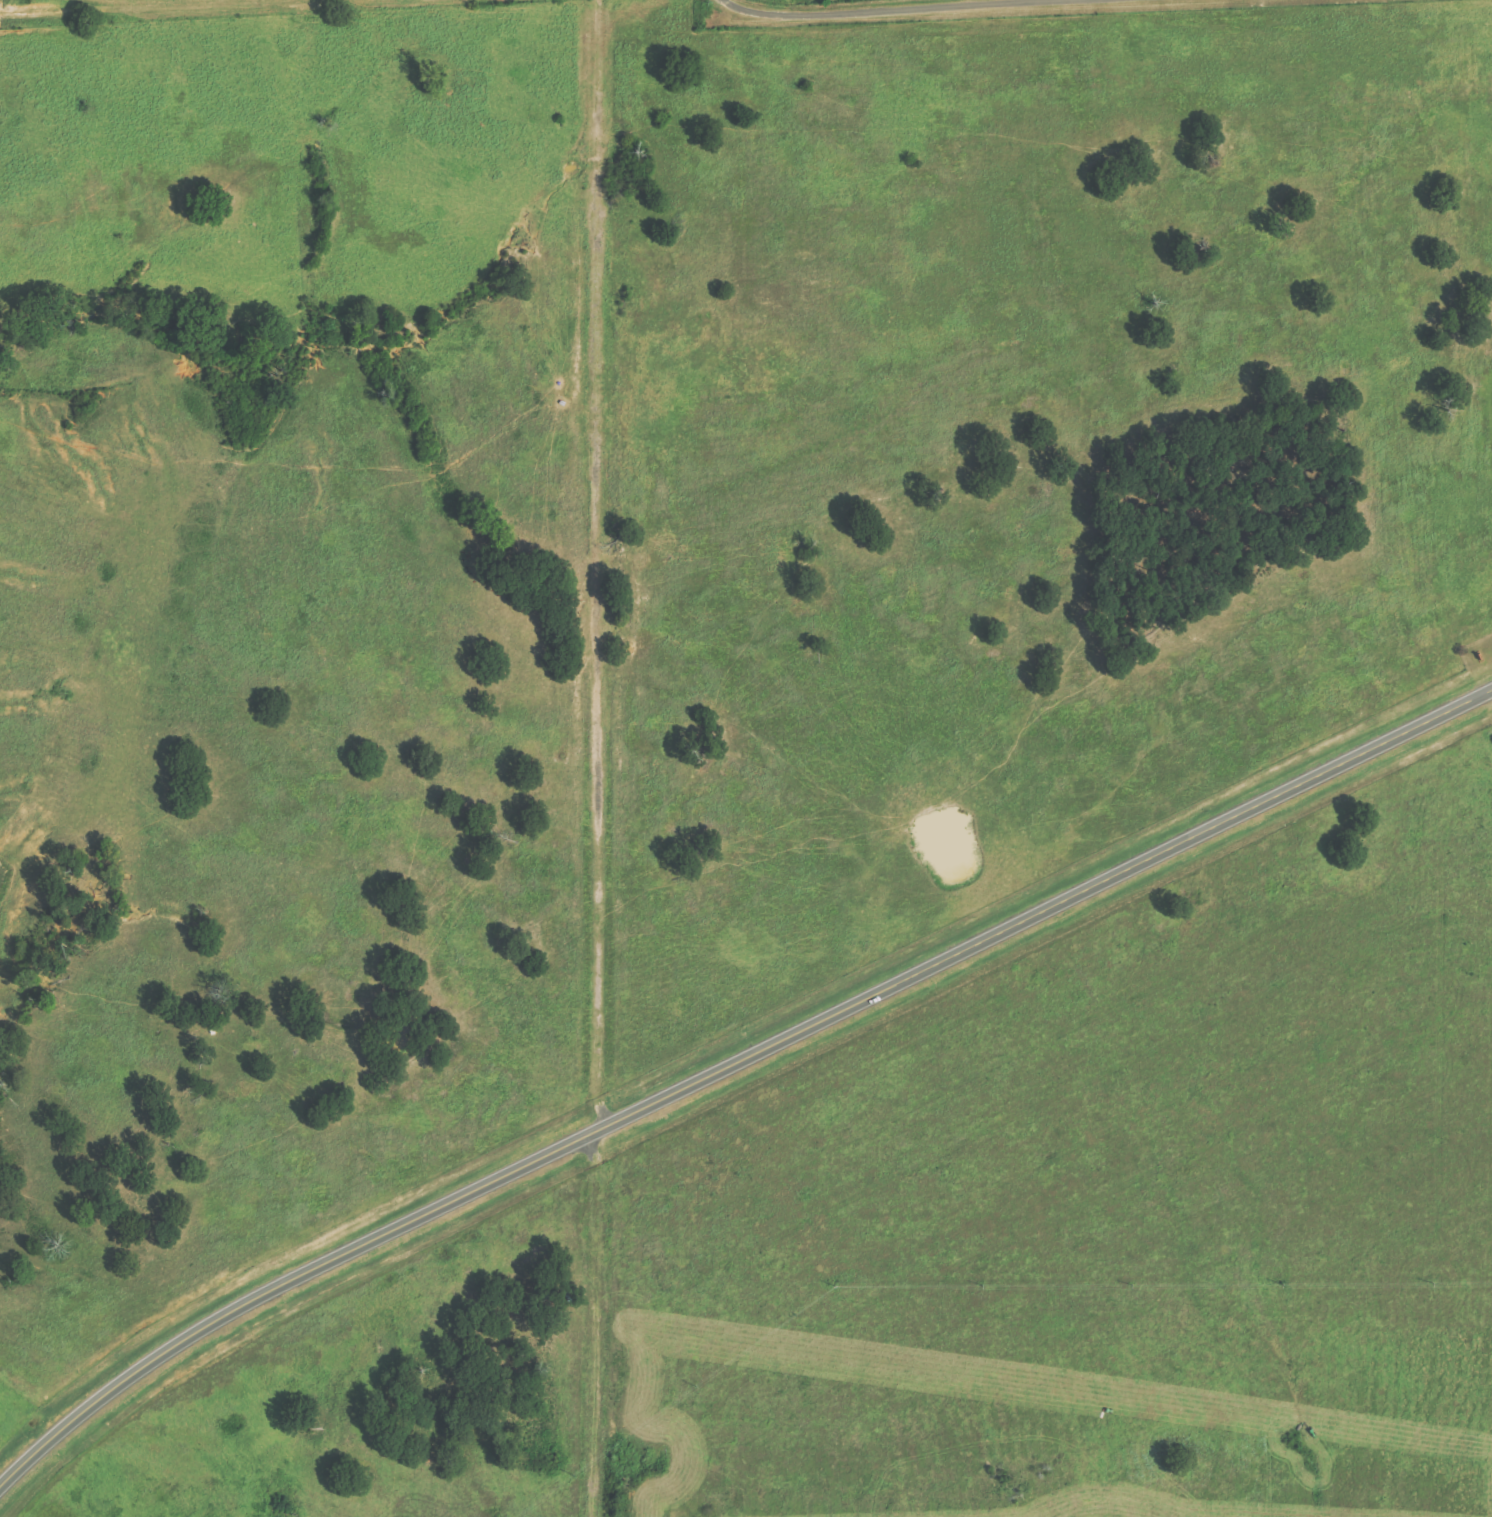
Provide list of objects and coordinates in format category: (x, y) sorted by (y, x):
road: (864, 8)
road: (730, 1065)

